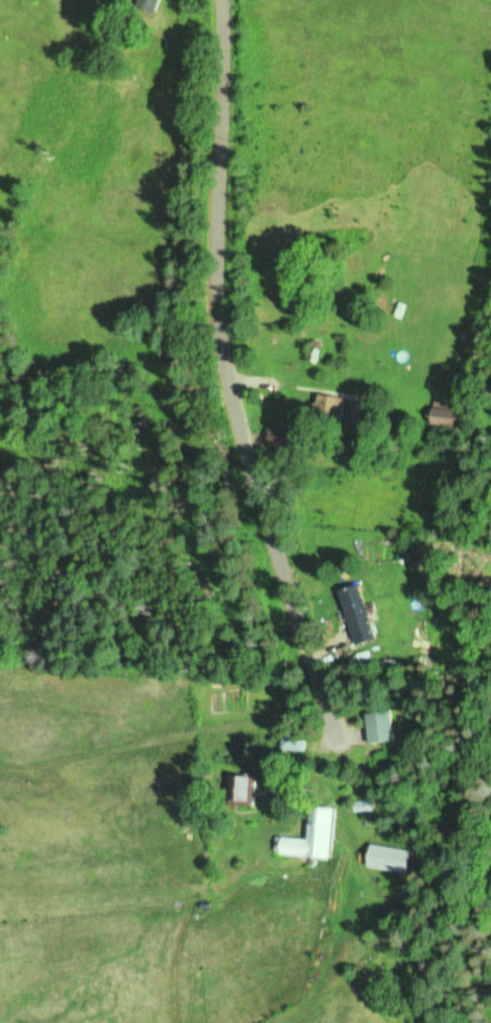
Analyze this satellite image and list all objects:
building: (149, 4)
road: (229, 374)
building: (335, 405)
building: (453, 416)
building: (283, 435)
building: (360, 615)
building: (382, 726)
building: (293, 740)
building: (311, 836)
building: (390, 858)

